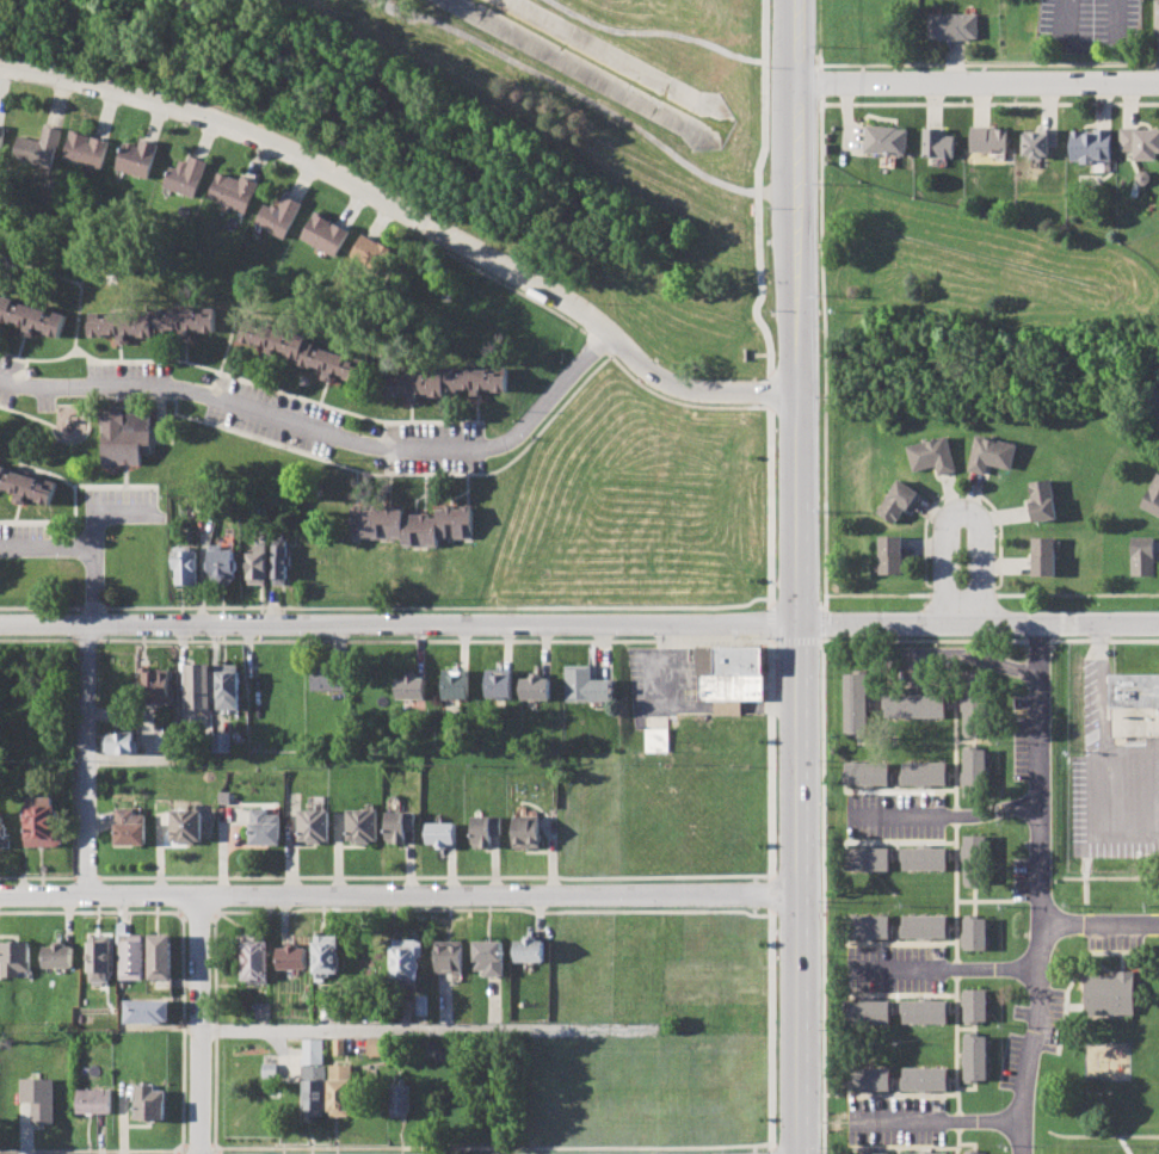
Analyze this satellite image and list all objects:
building: (1155, 18)
building: (951, 25)
road: (655, 31)
road: (978, 80)
road: (567, 90)
park: (508, 131)
building: (990, 138)
building: (886, 140)
building: (2, 141)
building: (1038, 142)
building: (1140, 142)
building: (938, 143)
building: (1092, 147)
building: (38, 148)
building: (87, 149)
building: (136, 158)
road: (319, 161)
building: (186, 175)
building: (233, 191)
building: (278, 216)
building: (325, 234)
building: (371, 253)
road: (797, 311)
building: (31, 315)
building: (153, 321)
building: (302, 350)
building: (445, 382)
road: (693, 388)
road: (326, 426)
building: (124, 436)
building: (992, 453)
building: (933, 455)
building: (25, 485)
building: (1153, 496)
building: (899, 499)
building: (1043, 501)
road: (106, 510)
road: (963, 514)
building: (412, 523)
road: (45, 544)
building: (890, 554)
building: (1044, 555)
building: (1145, 555)
building: (278, 560)
building: (183, 562)
building: (254, 563)
building: (220, 566)
road: (770, 574)
road: (93, 586)
road: (43, 624)
road: (443, 624)
road: (979, 624)
road: (1098, 640)
road: (960, 654)
parking lot: (910, 662)
building: (728, 675)
building: (327, 678)
building: (455, 683)
building: (498, 683)
road: (673, 683)
building: (155, 685)
building: (197, 685)
building: (585, 685)
building: (226, 686)
building: (535, 686)
building: (409, 687)
building: (857, 701)
building: (1134, 703)
building: (916, 705)
road: (727, 708)
road: (770, 708)
building: (974, 708)
road: (1101, 734)
building: (656, 740)
building: (119, 741)
building: (220, 741)
road: (87, 759)
parking lot: (1093, 769)
building: (868, 772)
building: (923, 772)
building: (974, 772)
road: (954, 813)
parking lot: (894, 815)
building: (42, 823)
building: (129, 825)
building: (186, 825)
building: (264, 825)
building: (363, 825)
building: (314, 826)
building: (396, 826)
building: (2, 829)
building: (485, 831)
building: (526, 831)
building: (442, 833)
building: (869, 858)
building: (926, 858)
building: (975, 858)
road: (822, 871)
road: (1110, 876)
road: (1085, 888)
road: (800, 889)
road: (1040, 889)
road: (400, 893)
road: (1099, 922)
building: (926, 925)
building: (868, 926)
building: (975, 933)
building: (530, 950)
building: (131, 951)
building: (326, 954)
building: (58, 956)
building: (101, 956)
building: (160, 956)
building: (449, 956)
building: (16, 957)
building: (255, 957)
building: (292, 957)
building: (488, 957)
building: (406, 963)
parking lot: (895, 968)
road: (950, 968)
building: (1110, 992)
building: (423, 1005)
building: (975, 1005)
building: (335, 1008)
building: (146, 1010)
building: (261, 1011)
building: (868, 1011)
building: (925, 1011)
road: (199, 1023)
road: (427, 1029)
park: (1099, 1039)
building: (341, 1045)
building: (377, 1047)
building: (313, 1051)
park: (1157, 1053)
building: (975, 1057)
building: (270, 1069)
building: (868, 1078)
building: (926, 1078)
building: (341, 1091)
building: (315, 1097)
building: (39, 1098)
building: (401, 1099)
building: (93, 1100)
building: (149, 1101)
parking lot: (895, 1121)
road: (942, 1122)
building: (869, 1153)
building: (926, 1153)
building: (975, 1153)

